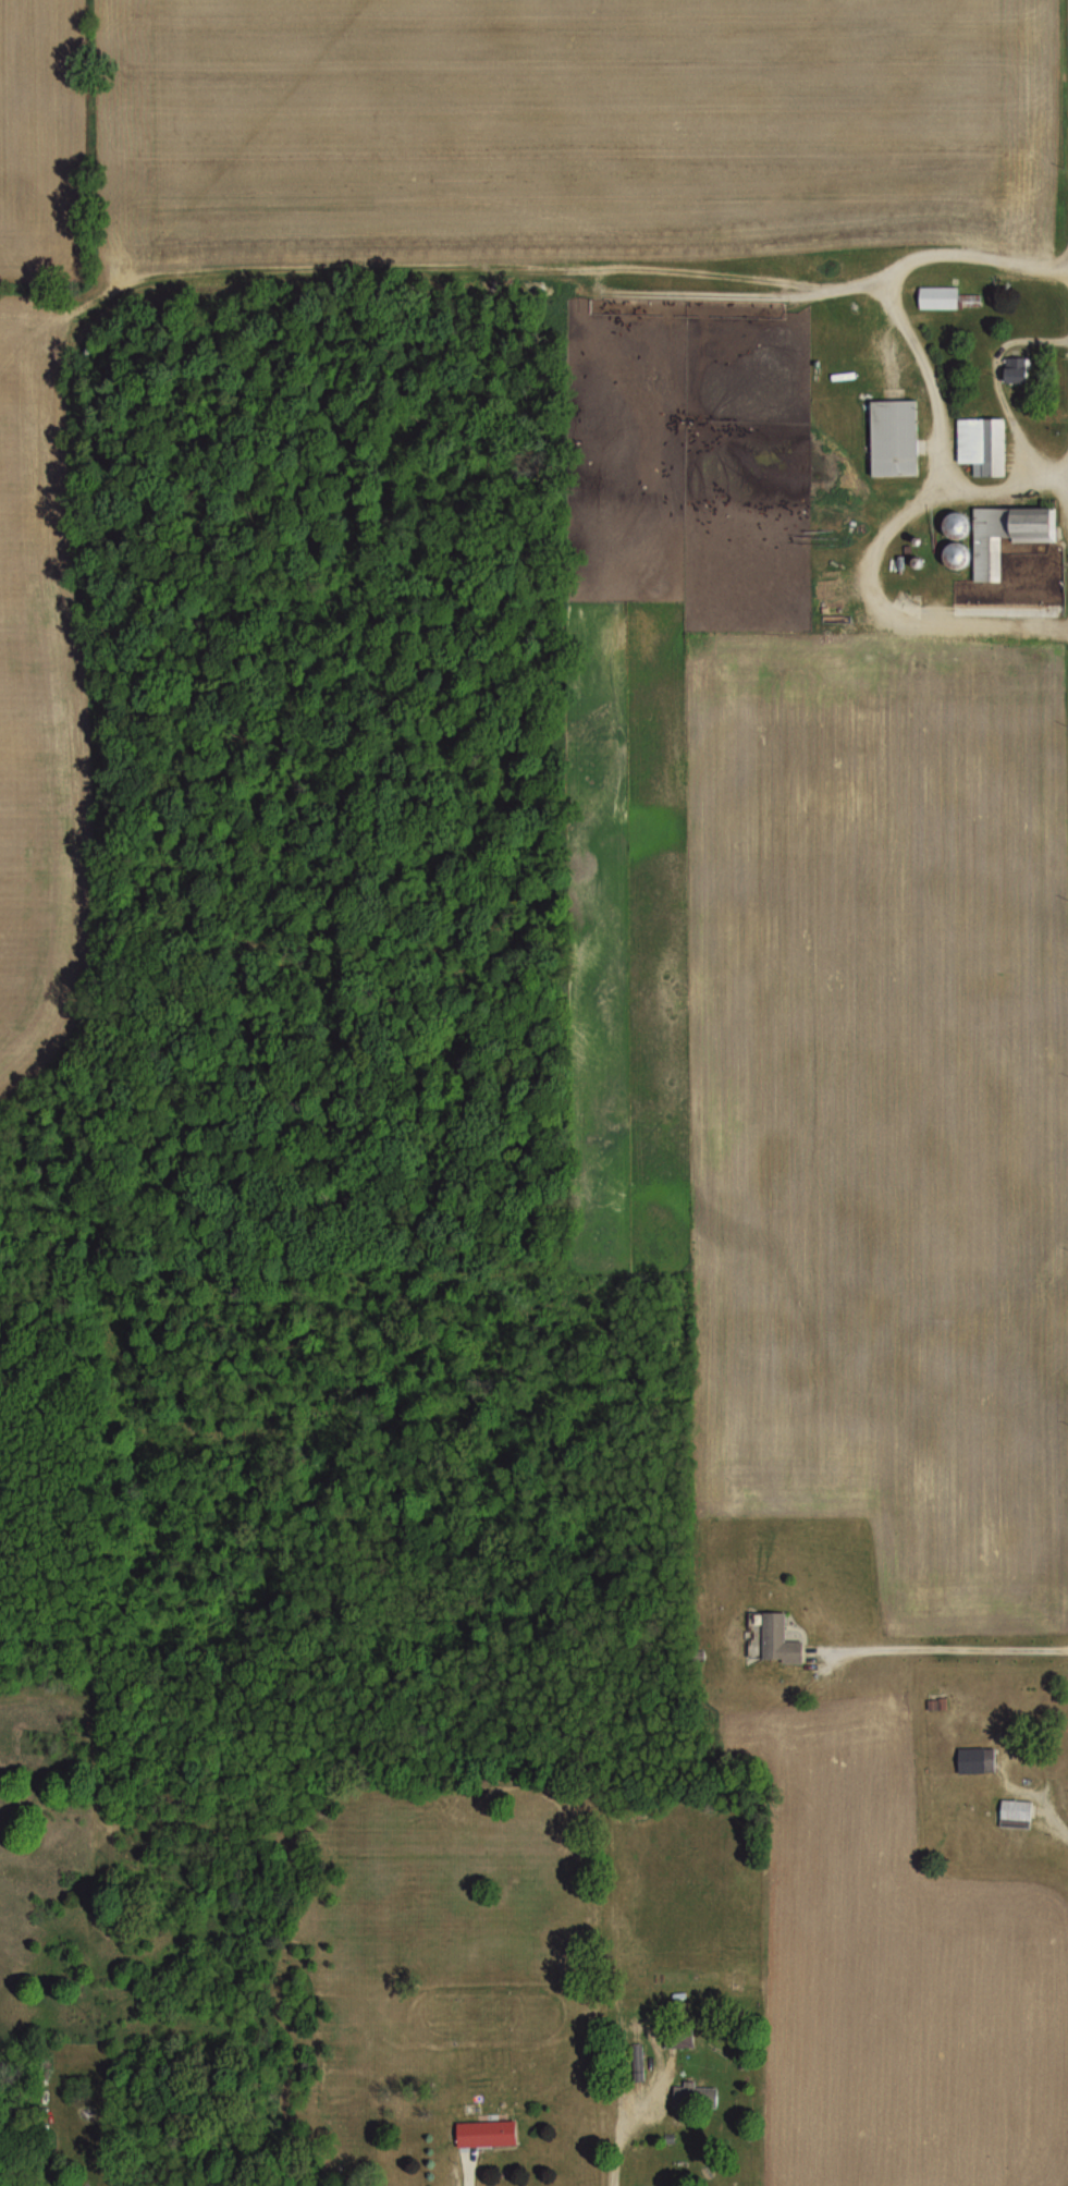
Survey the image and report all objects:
building: (945, 294)
building: (1022, 367)
road: (999, 388)
building: (898, 436)
building: (986, 443)
road: (935, 453)
road: (997, 488)
building: (1003, 534)
building: (785, 1638)
road: (943, 1646)
building: (941, 1702)
building: (981, 1759)
building: (1014, 1810)
building: (683, 2038)
building: (699, 2093)
building: (491, 2130)
road: (619, 2142)
road: (466, 2172)

